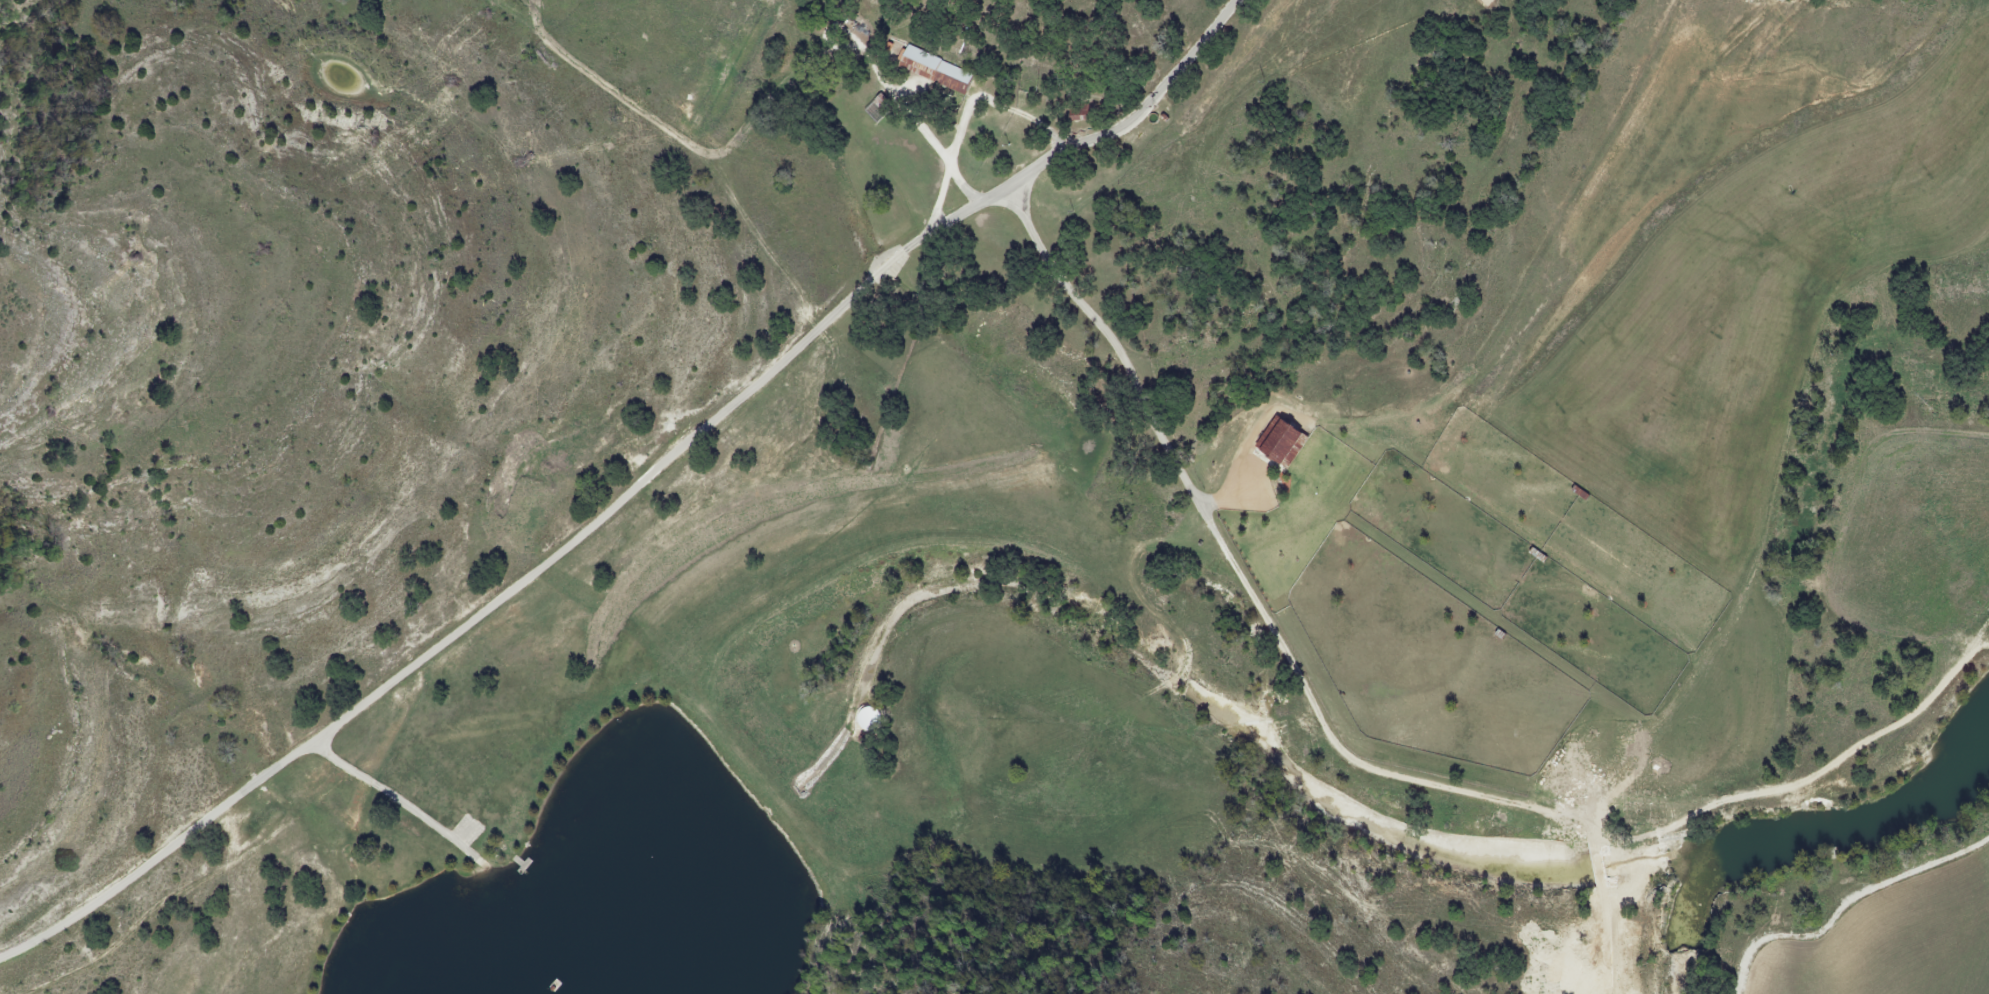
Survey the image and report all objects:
road: (636, 500)

